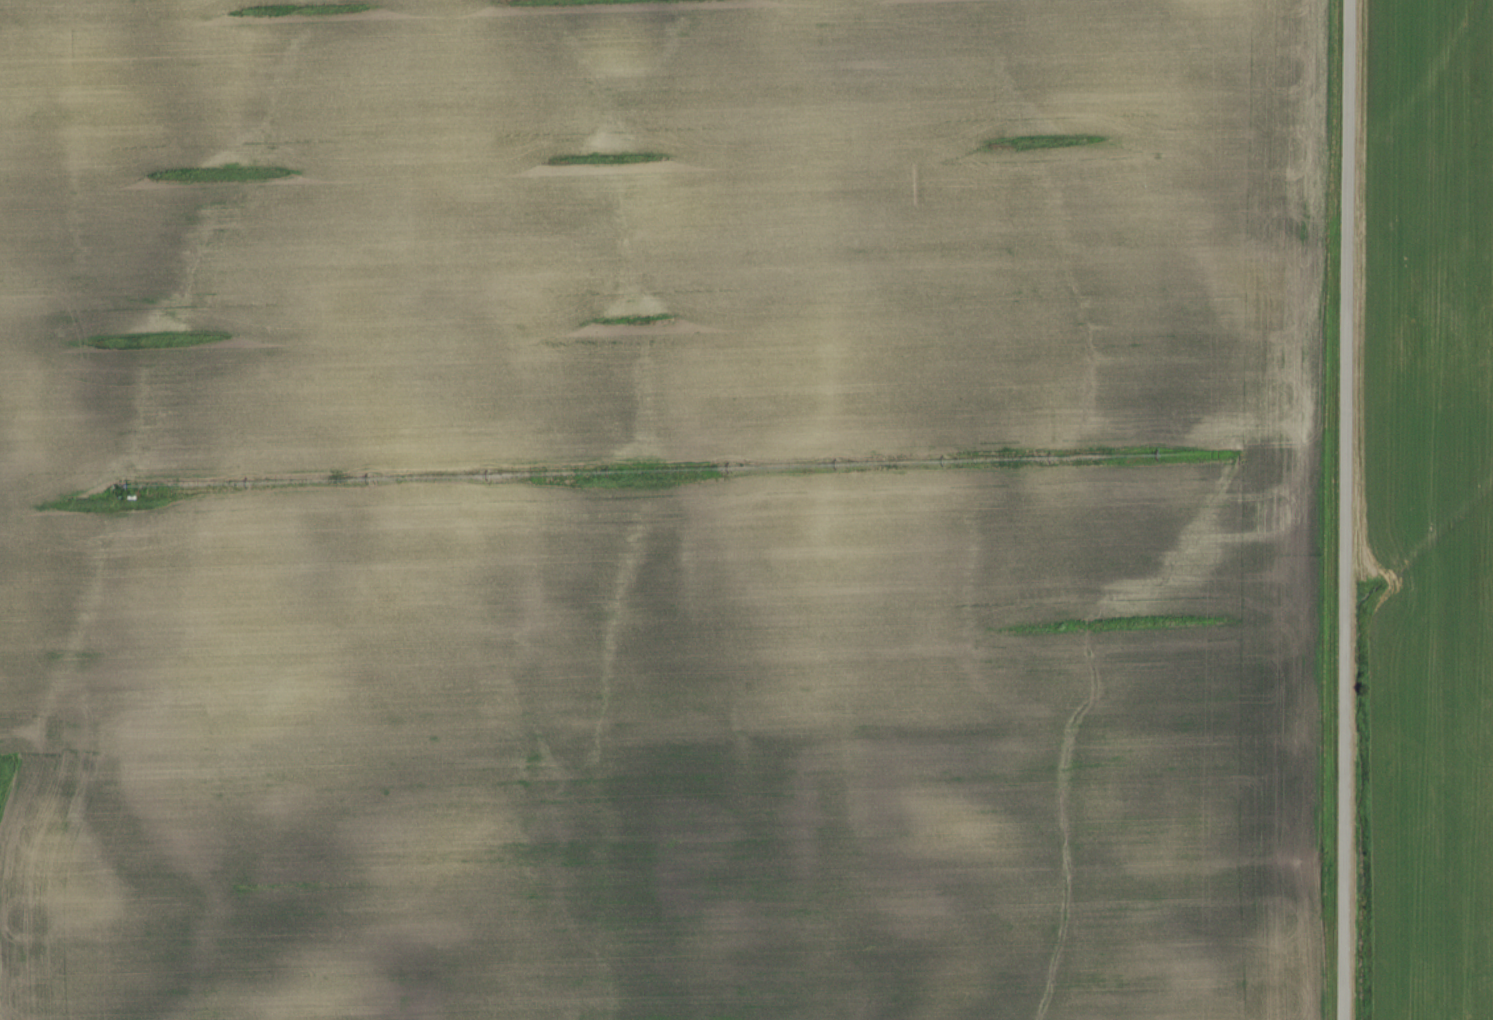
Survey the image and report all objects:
road: (1344, 509)

